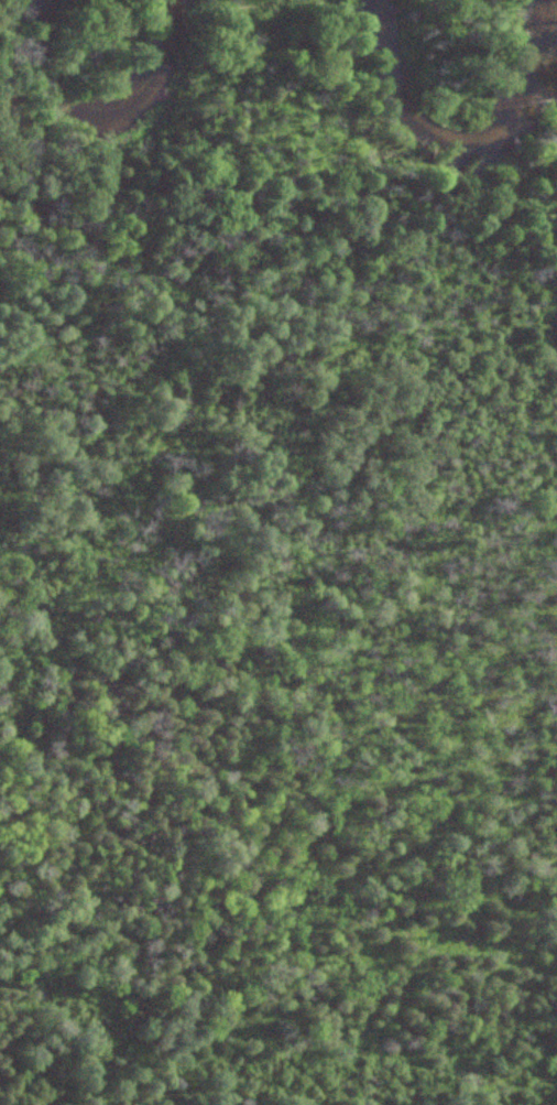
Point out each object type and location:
river: (96, 121)
river: (452, 152)

